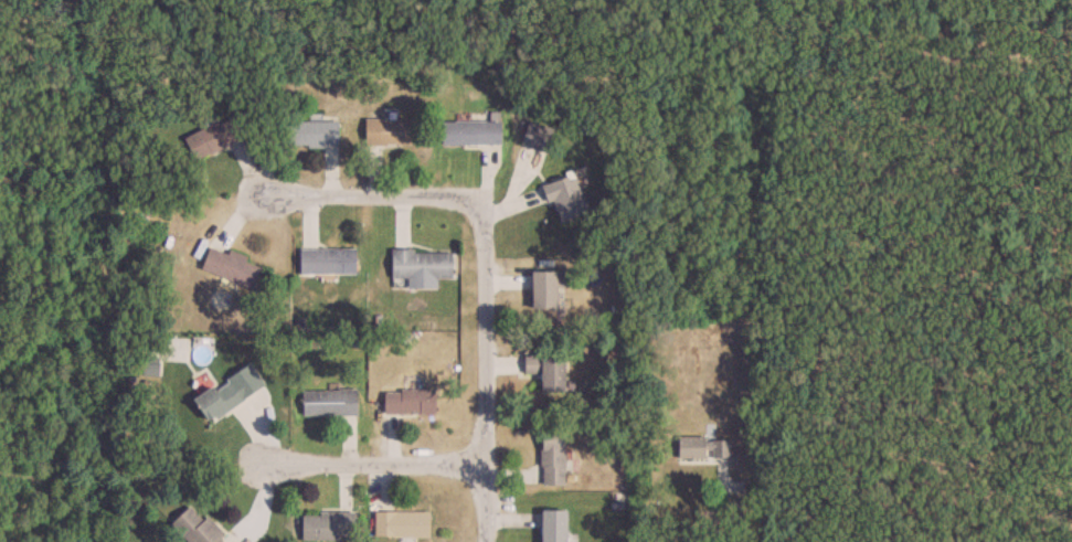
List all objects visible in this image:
building: (315, 132)
building: (395, 132)
building: (474, 132)
building: (539, 136)
building: (215, 137)
road: (371, 196)
building: (567, 198)
building: (329, 261)
building: (424, 264)
building: (233, 267)
building: (548, 290)
building: (152, 371)
building: (550, 371)
road: (485, 375)
building: (221, 400)
building: (412, 402)
building: (331, 403)
building: (705, 448)
building: (555, 458)
road: (373, 463)
road: (672, 509)
building: (404, 524)
building: (558, 525)
building: (331, 527)
building: (200, 528)

